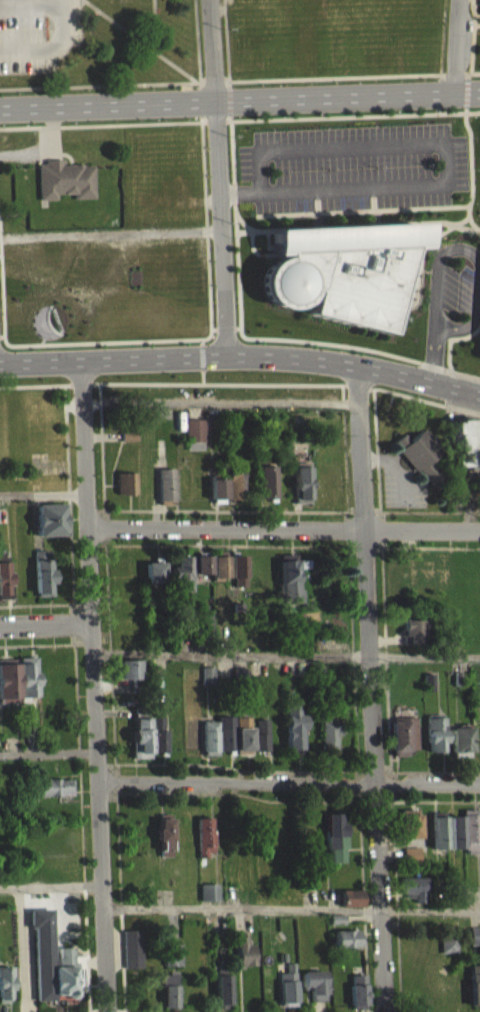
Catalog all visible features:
road: (30, 6)
road: (155, 26)
parking lot: (37, 32)
road: (474, 35)
road: (139, 40)
road: (226, 43)
road: (456, 46)
road: (52, 48)
road: (354, 75)
road: (213, 77)
road: (99, 85)
road: (466, 92)
road: (226, 98)
road: (228, 99)
road: (340, 115)
road: (229, 116)
road: (100, 124)
road: (470, 152)
road: (202, 164)
road: (445, 165)
parking lot: (353, 168)
road: (217, 178)
building: (64, 187)
road: (362, 210)
road: (235, 222)
road: (358, 224)
road: (251, 235)
road: (425, 242)
road: (473, 254)
building: (341, 270)
parking lot: (456, 289)
road: (1, 304)
road: (225, 328)
road: (109, 340)
road: (450, 340)
road: (201, 341)
road: (340, 344)
road: (433, 355)
road: (202, 356)
road: (222, 356)
road: (41, 361)
road: (202, 375)
road: (466, 376)
road: (421, 379)
road: (81, 383)
road: (218, 383)
road: (36, 384)
road: (357, 386)
road: (424, 399)
building: (193, 441)
building: (128, 443)
building: (465, 450)
building: (419, 461)
building: (266, 489)
building: (232, 490)
building: (125, 491)
building: (165, 492)
building: (300, 492)
building: (216, 496)
building: (51, 527)
road: (283, 528)
building: (199, 572)
building: (218, 574)
building: (236, 578)
building: (153, 579)
building: (42, 580)
building: (179, 581)
building: (4, 587)
building: (288, 590)
building: (203, 628)
road: (45, 631)
building: (411, 638)
road: (425, 657)
building: (126, 676)
building: (206, 683)
building: (26, 684)
road: (92, 686)
road: (372, 689)
building: (427, 689)
building: (8, 691)
building: (133, 693)
building: (293, 736)
building: (328, 739)
building: (260, 742)
building: (434, 742)
building: (216, 743)
building: (241, 743)
building: (402, 743)
building: (147, 744)
building: (459, 749)
road: (47, 751)
road: (288, 780)
building: (52, 795)
building: (470, 827)
building: (408, 831)
building: (332, 839)
building: (454, 839)
building: (437, 840)
building: (163, 843)
building: (204, 844)
building: (409, 861)
road: (50, 886)
building: (412, 895)
building: (208, 899)
building: (350, 905)
road: (240, 907)
road: (429, 909)
building: (474, 943)
building: (345, 946)
building: (447, 952)
building: (131, 956)
building: (242, 960)
building: (171, 962)
building: (50, 969)
building: (474, 991)
building: (5, 992)
building: (313, 992)
building: (287, 993)
building: (167, 996)
building: (221, 997)
building: (356, 997)

